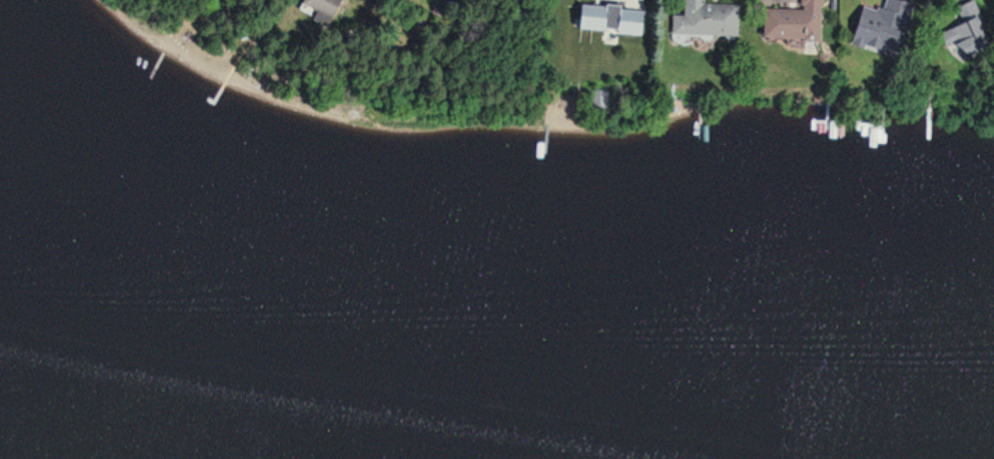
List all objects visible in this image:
building: (604, 20)
building: (703, 21)
building: (788, 23)

